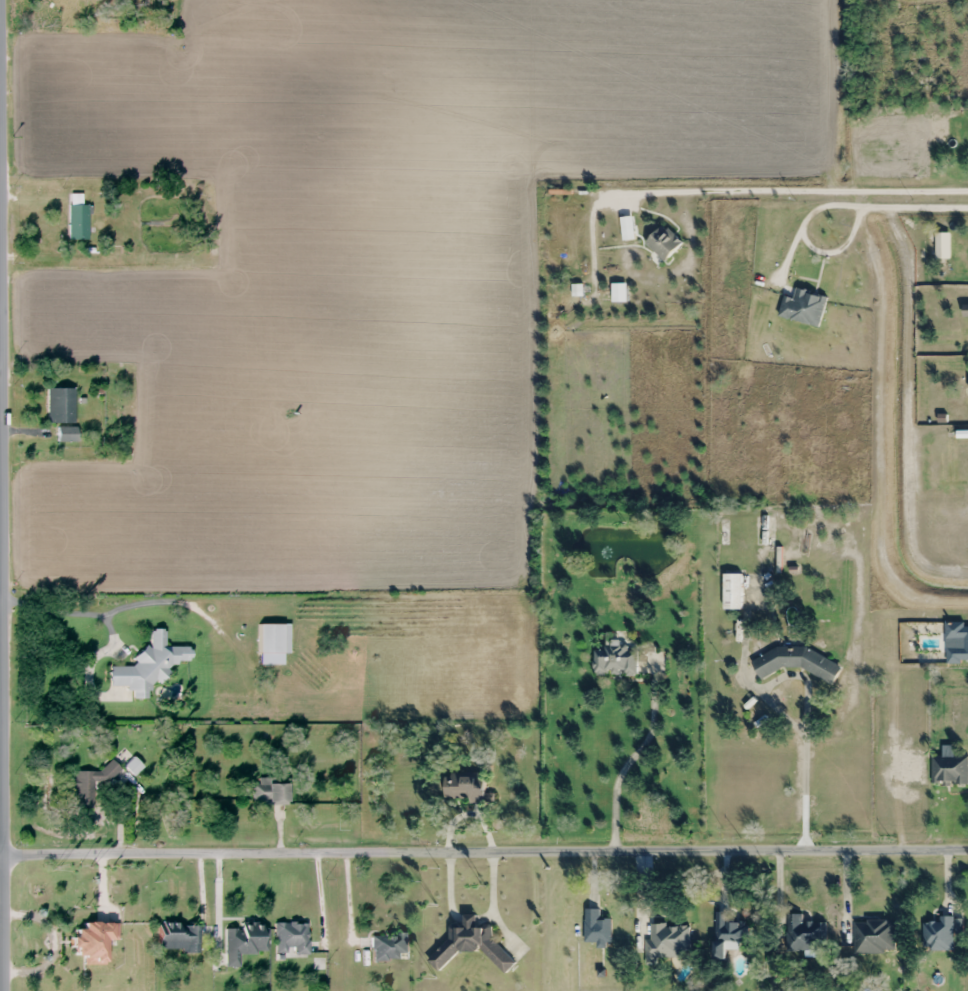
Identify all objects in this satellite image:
building: (93, 3)
road: (837, 193)
road: (901, 210)
building: (77, 222)
building: (662, 242)
building: (802, 307)
building: (965, 310)
building: (59, 405)
building: (65, 434)
building: (763, 531)
building: (731, 591)
building: (272, 638)
building: (956, 642)
building: (614, 661)
building: (795, 662)
building: (146, 666)
road: (1, 668)
building: (949, 770)
building: (89, 786)
building: (462, 787)
building: (267, 792)
road: (484, 852)
building: (595, 927)
building: (804, 933)
building: (727, 934)
building: (938, 935)
building: (872, 936)
building: (177, 937)
building: (289, 939)
building: (92, 941)
building: (665, 941)
building: (242, 942)
building: (470, 945)
building: (389, 946)

